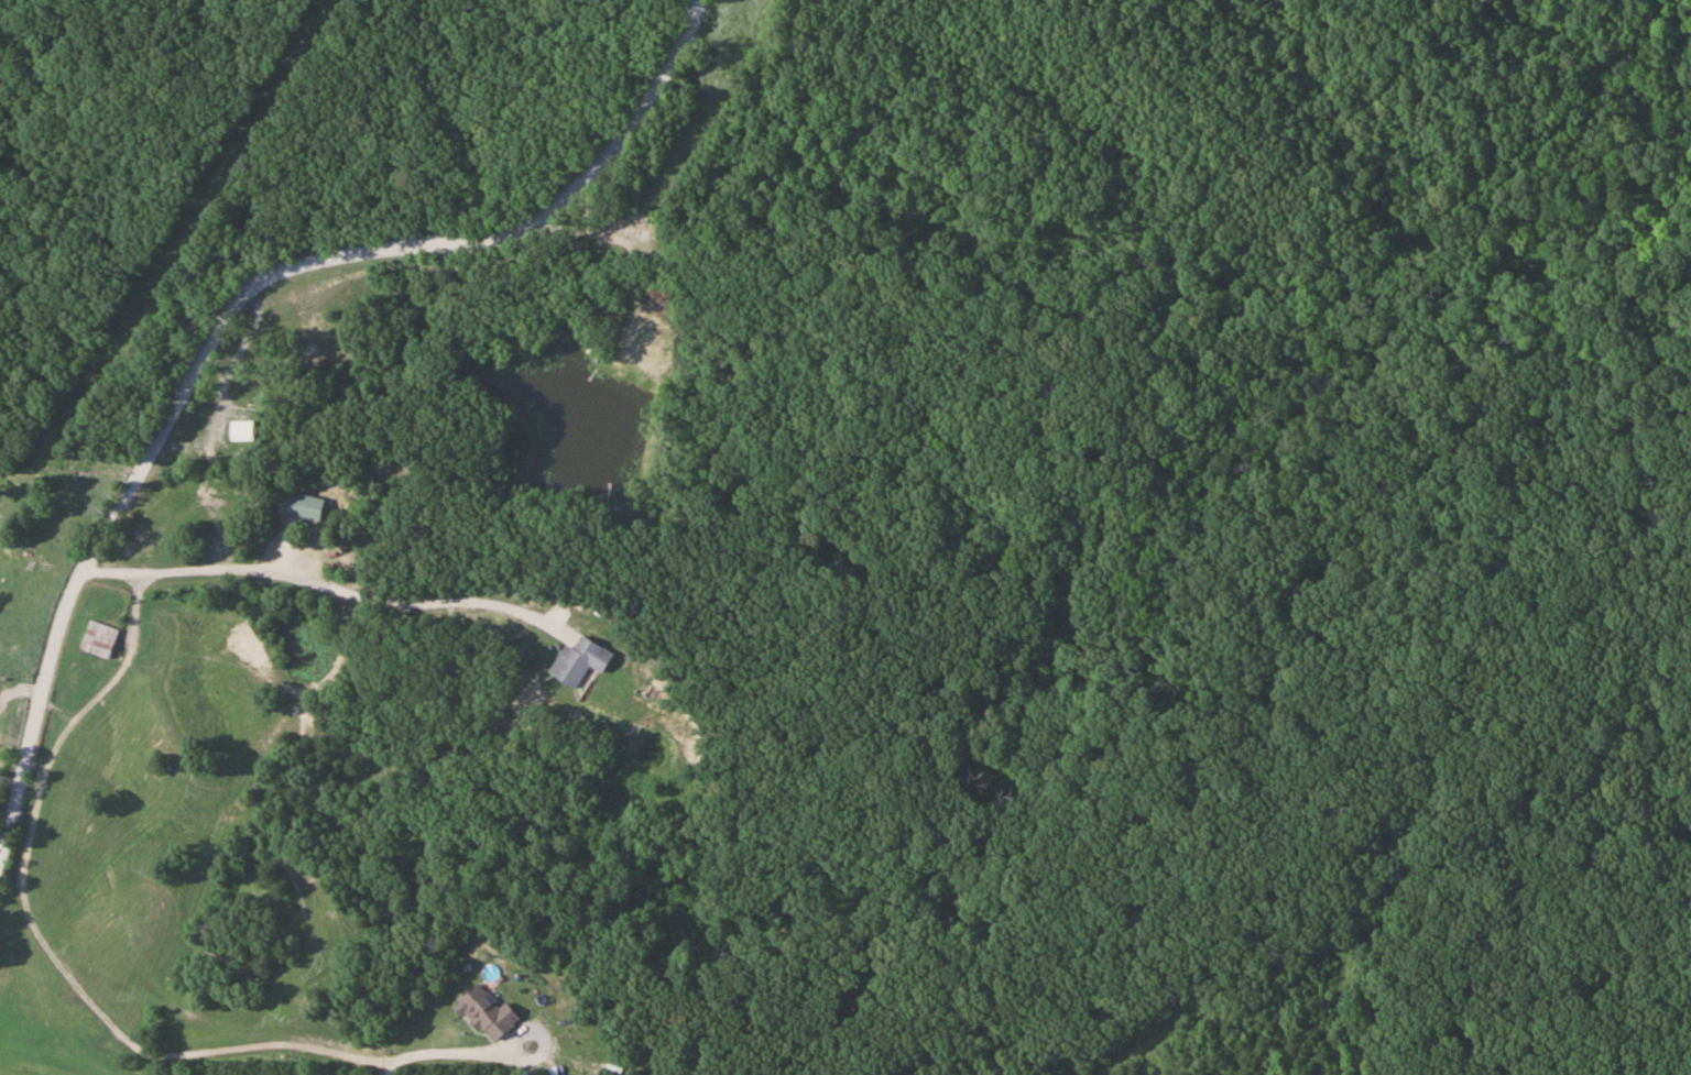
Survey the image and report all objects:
road: (702, 3)
building: (630, 233)
road: (238, 298)
road: (223, 381)
building: (240, 431)
road: (204, 502)
road: (313, 584)
building: (99, 640)
building: (578, 662)
road: (40, 939)
building: (484, 1013)
road: (445, 1051)

